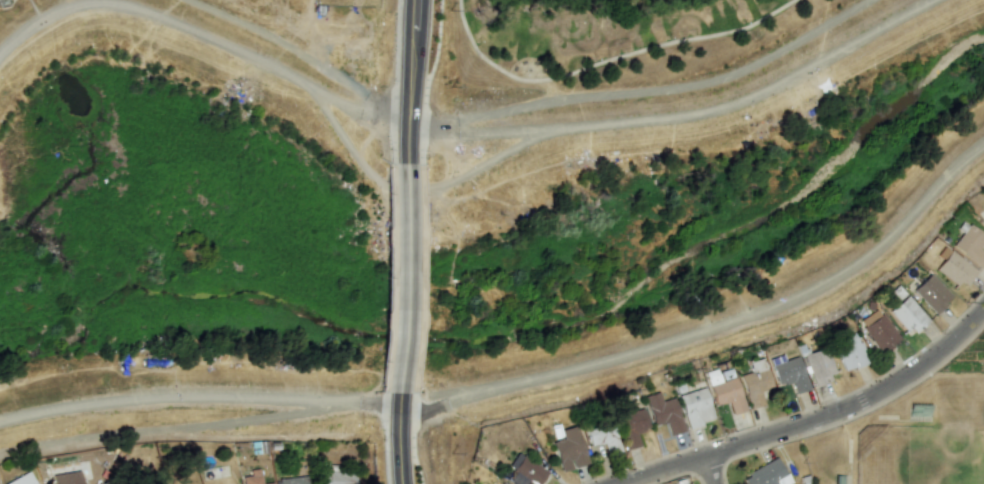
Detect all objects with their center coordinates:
road: (33, 16)
road: (204, 36)
road: (410, 85)
road: (670, 88)
road: (706, 110)
road: (432, 123)
road: (432, 134)
road: (413, 189)
building: (969, 245)
building: (955, 270)
road: (403, 280)
building: (931, 293)
building: (907, 315)
road: (715, 327)
building: (880, 333)
building: (849, 352)
building: (819, 365)
building: (790, 374)
building: (755, 382)
building: (725, 392)
road: (197, 398)
building: (696, 407)
building: (664, 412)
road: (816, 421)
building: (632, 427)
road: (399, 436)
building: (603, 437)
building: (569, 450)
road: (710, 470)
building: (65, 473)
building: (526, 473)
building: (766, 474)
building: (252, 477)
building: (337, 477)
building: (23, 479)
building: (292, 480)
building: (268, 483)

